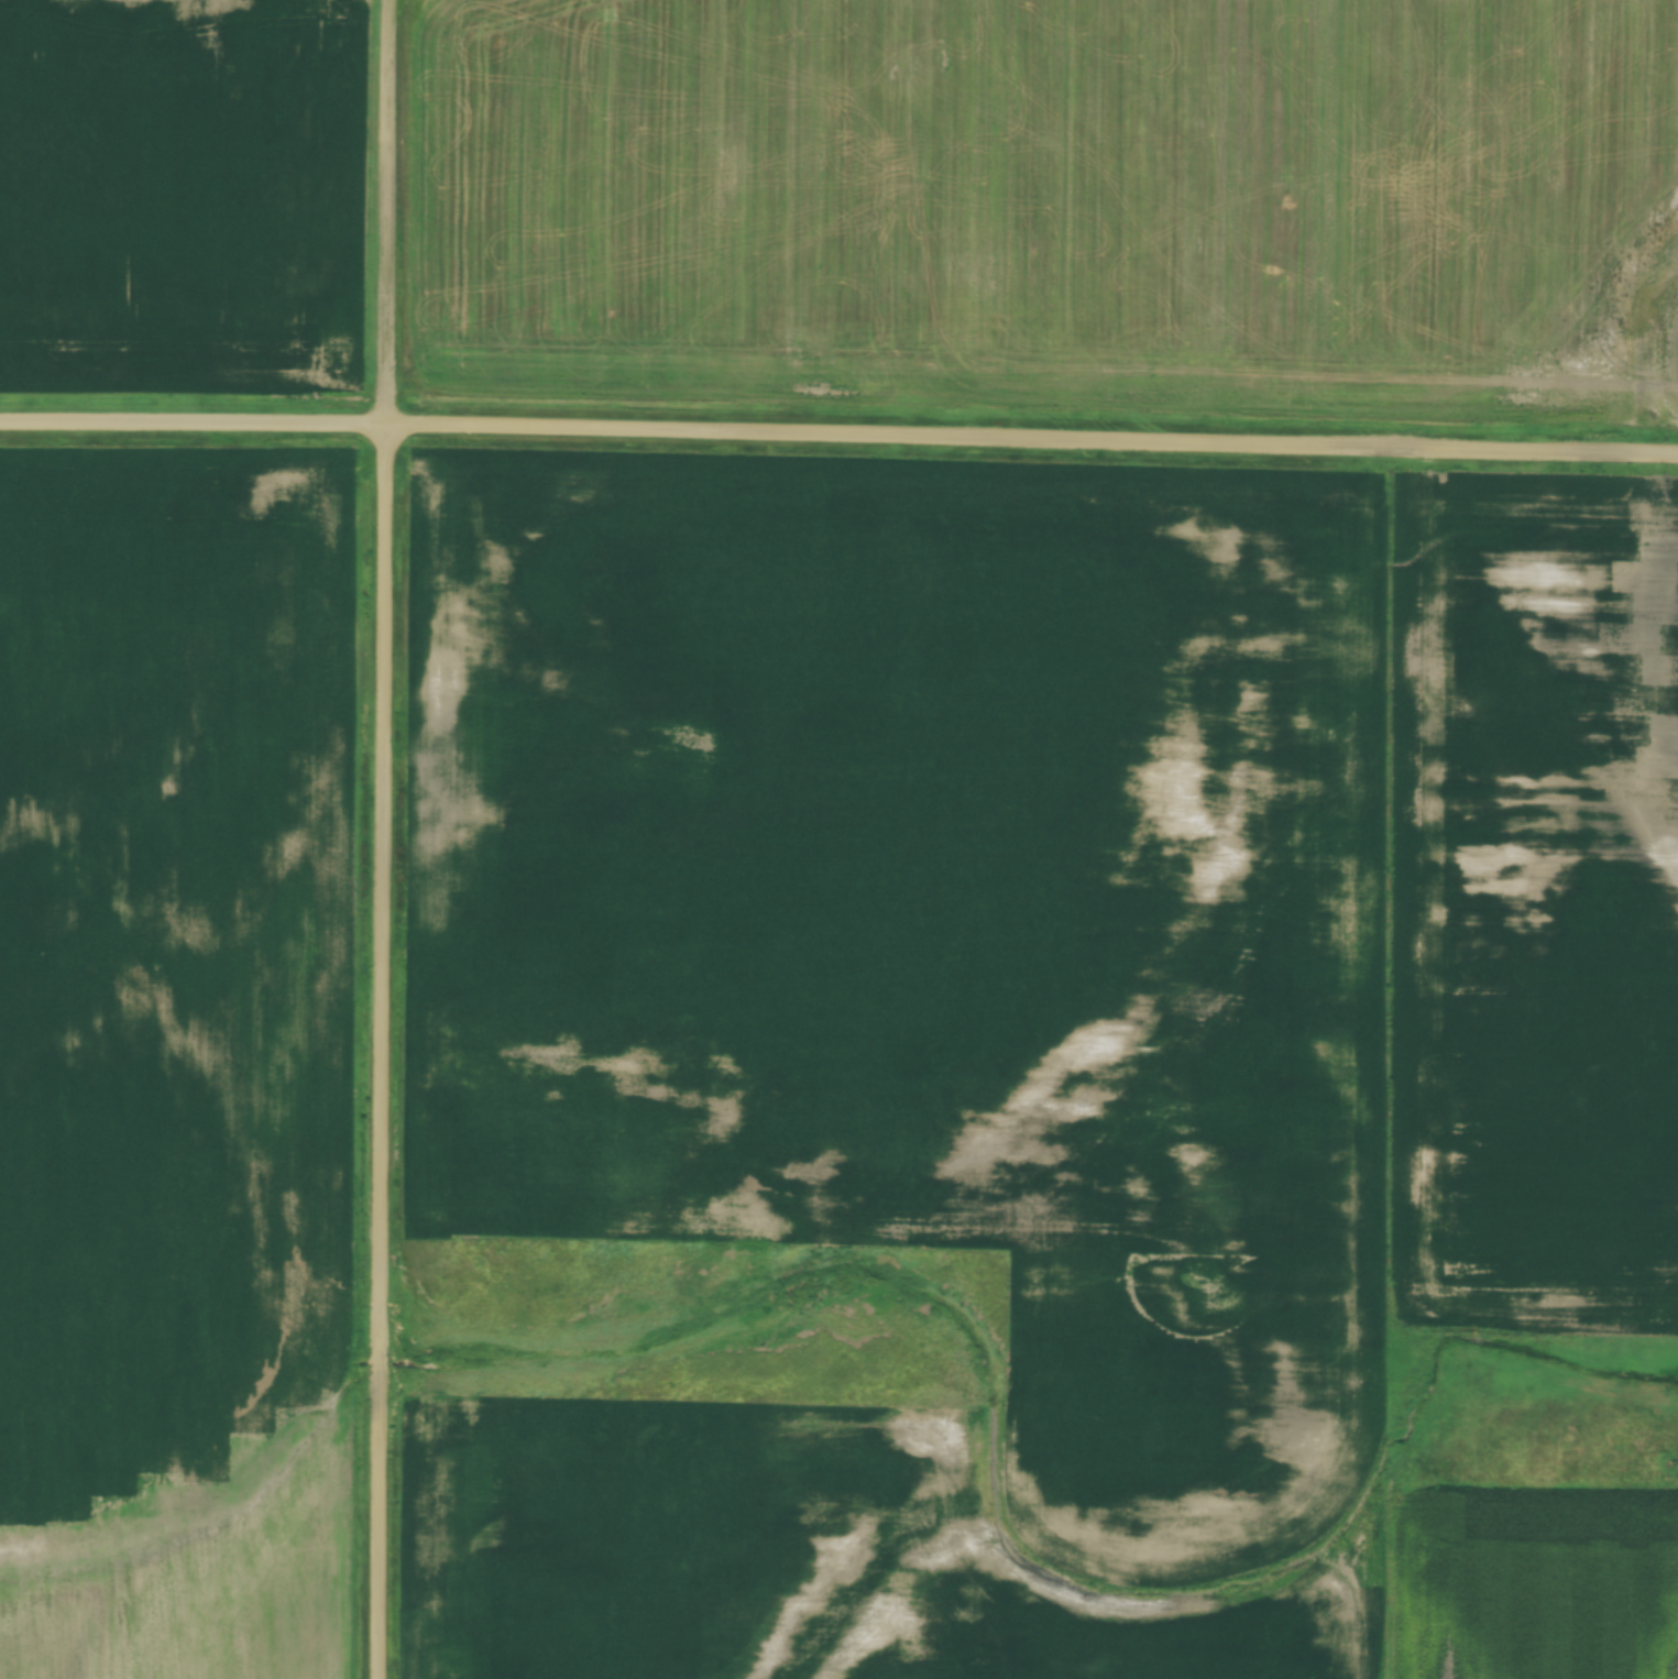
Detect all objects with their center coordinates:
road: (838, 437)
road: (384, 838)

